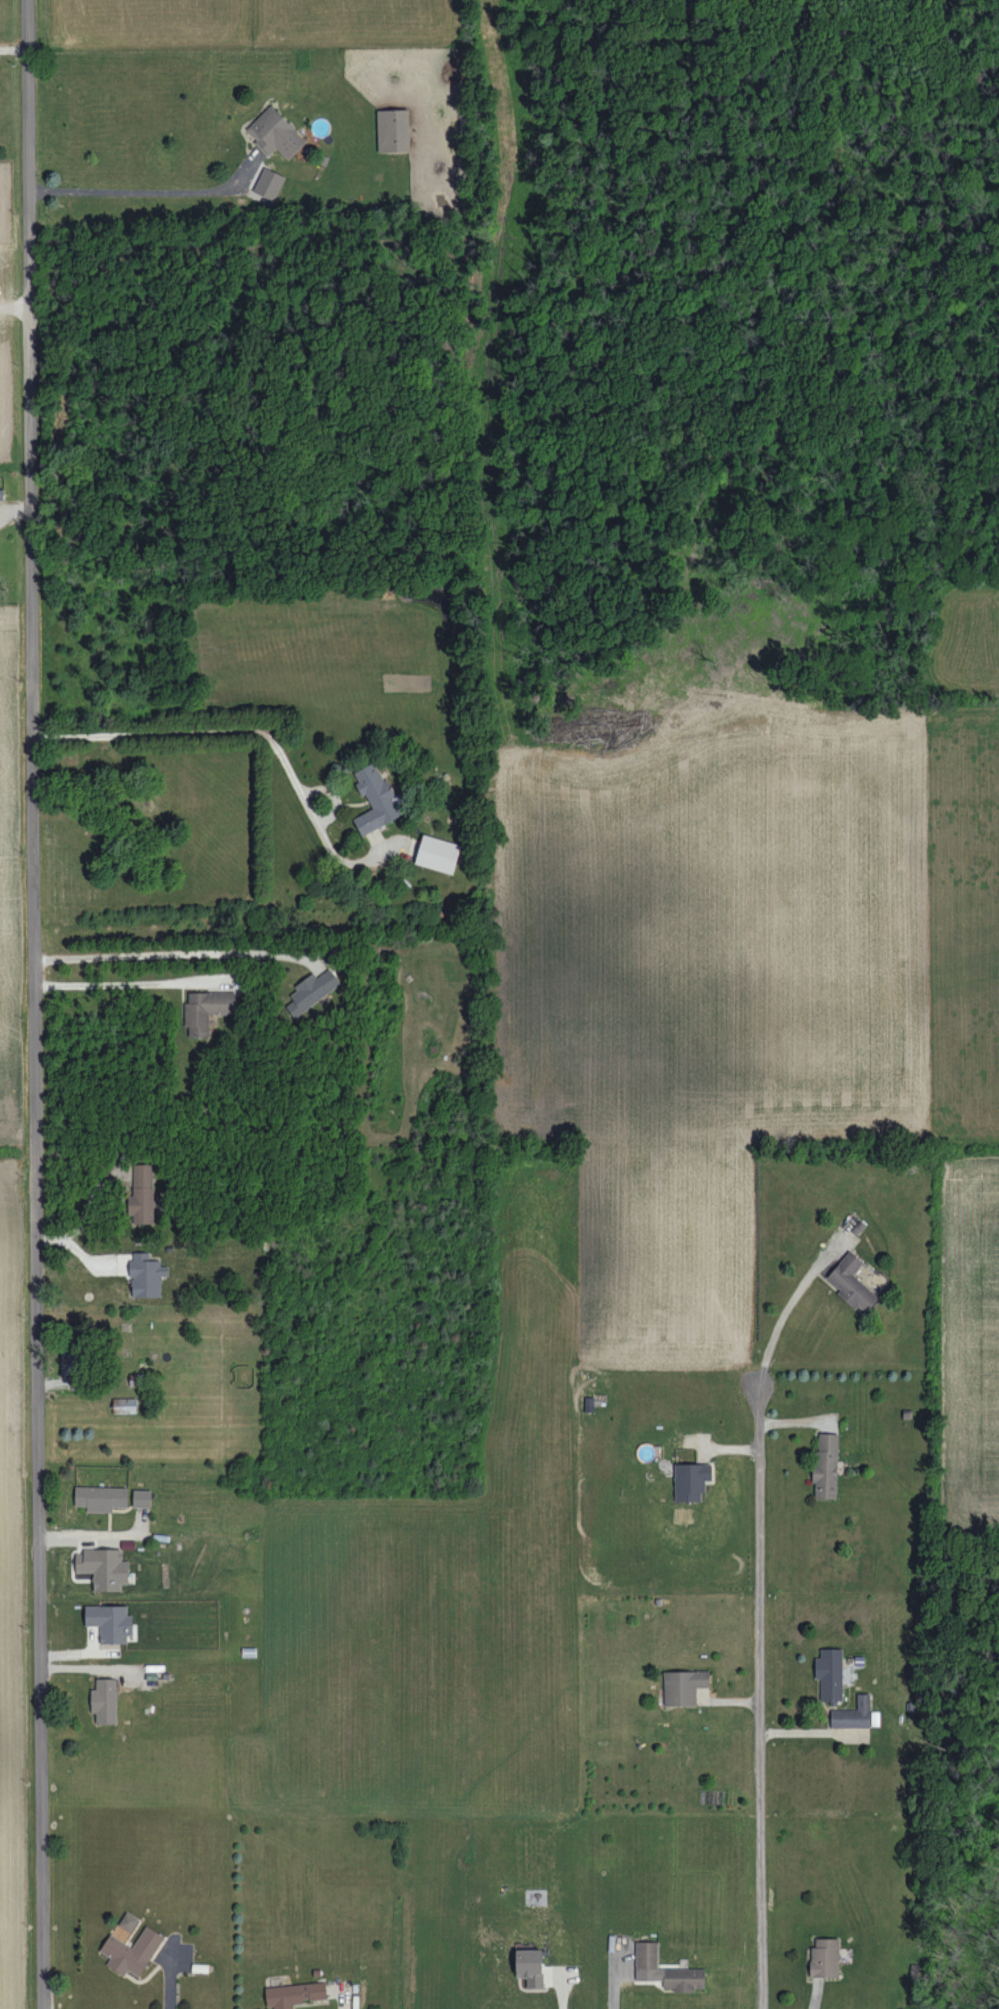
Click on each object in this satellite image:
road: (13, 49)
building: (393, 131)
building: (275, 134)
building: (268, 183)
road: (141, 191)
building: (1, 493)
road: (246, 730)
building: (376, 799)
building: (438, 854)
road: (120, 983)
building: (311, 991)
road: (37, 1004)
building: (206, 1010)
building: (142, 1193)
building: (146, 1275)
building: (851, 1283)
building: (71, 1361)
building: (124, 1405)
building: (826, 1467)
building: (691, 1481)
building: (100, 1497)
building: (141, 1498)
road: (91, 1533)
building: (103, 1567)
building: (110, 1622)
building: (830, 1673)
building: (683, 1686)
road: (759, 1698)
building: (104, 1700)
building: (852, 1714)
building: (128, 1921)
building: (132, 1951)
building: (825, 1957)
building: (530, 1966)
building: (665, 1970)
building: (294, 1994)

